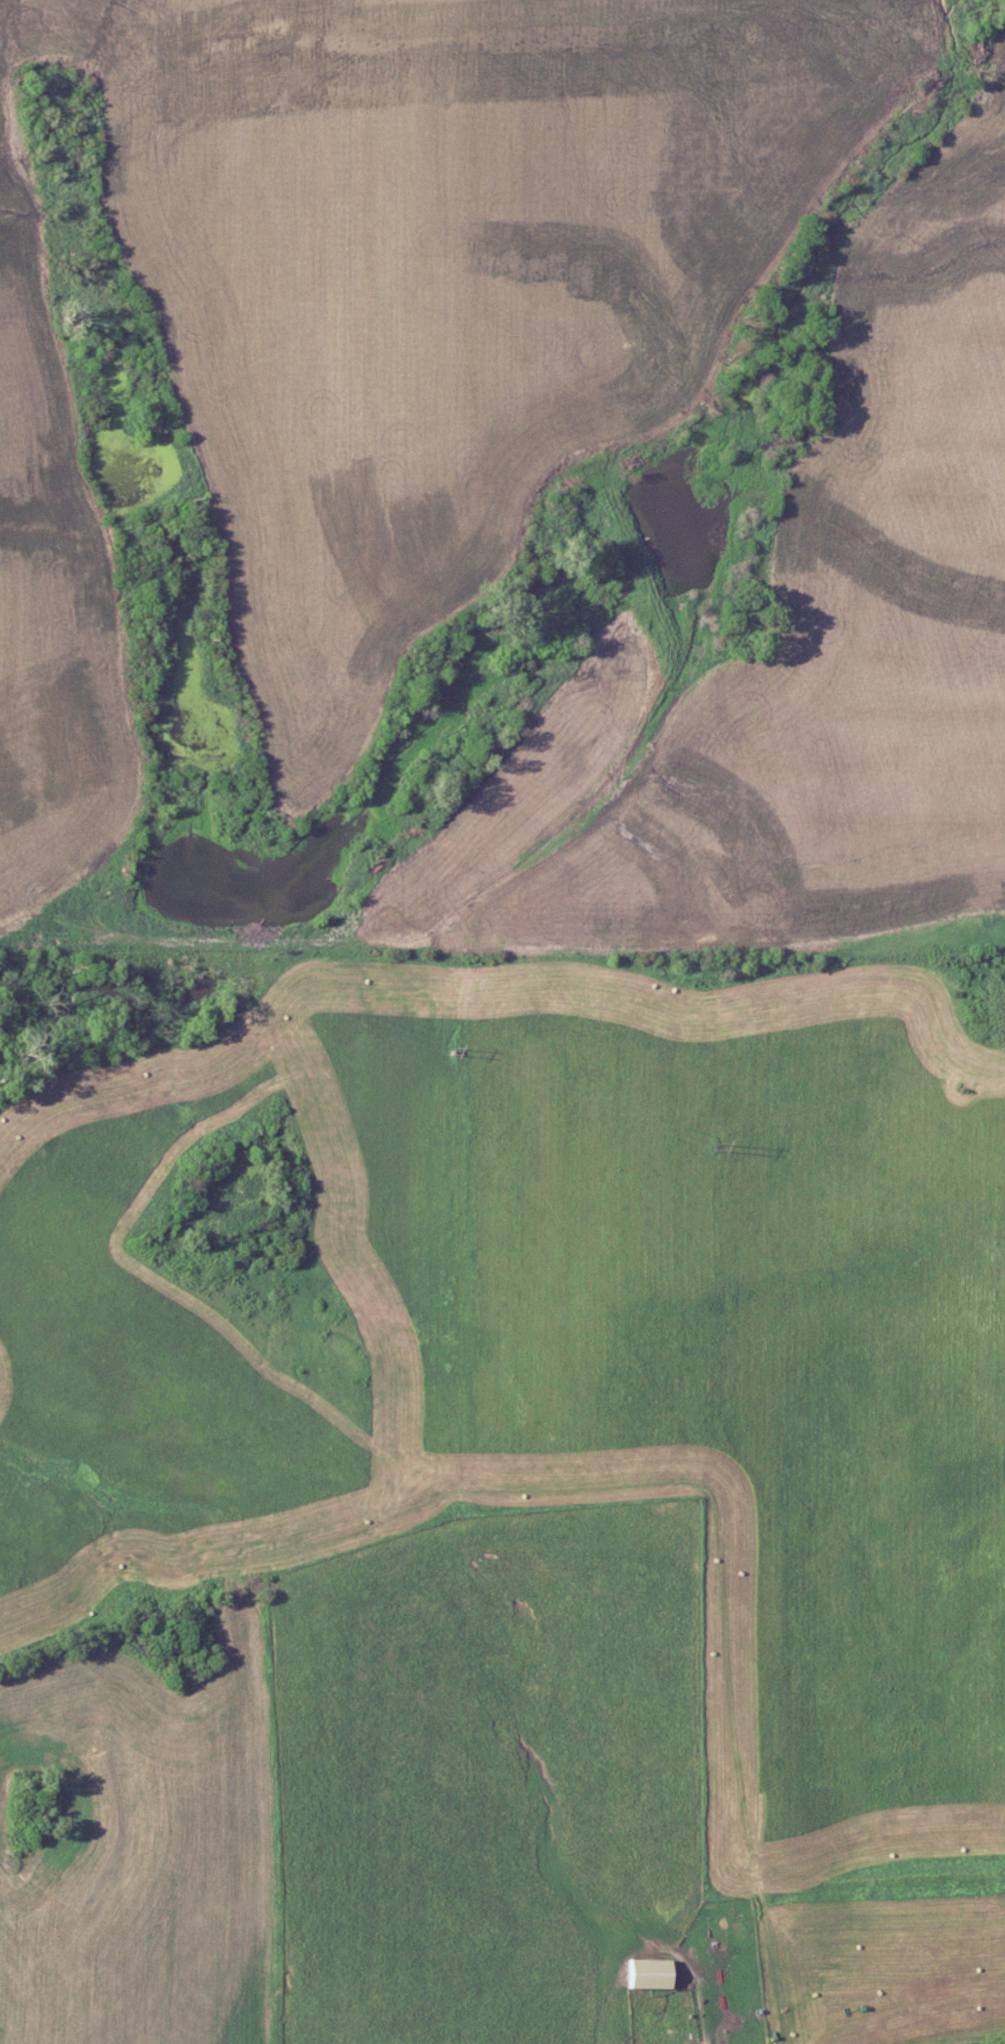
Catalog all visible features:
building: (651, 1971)

